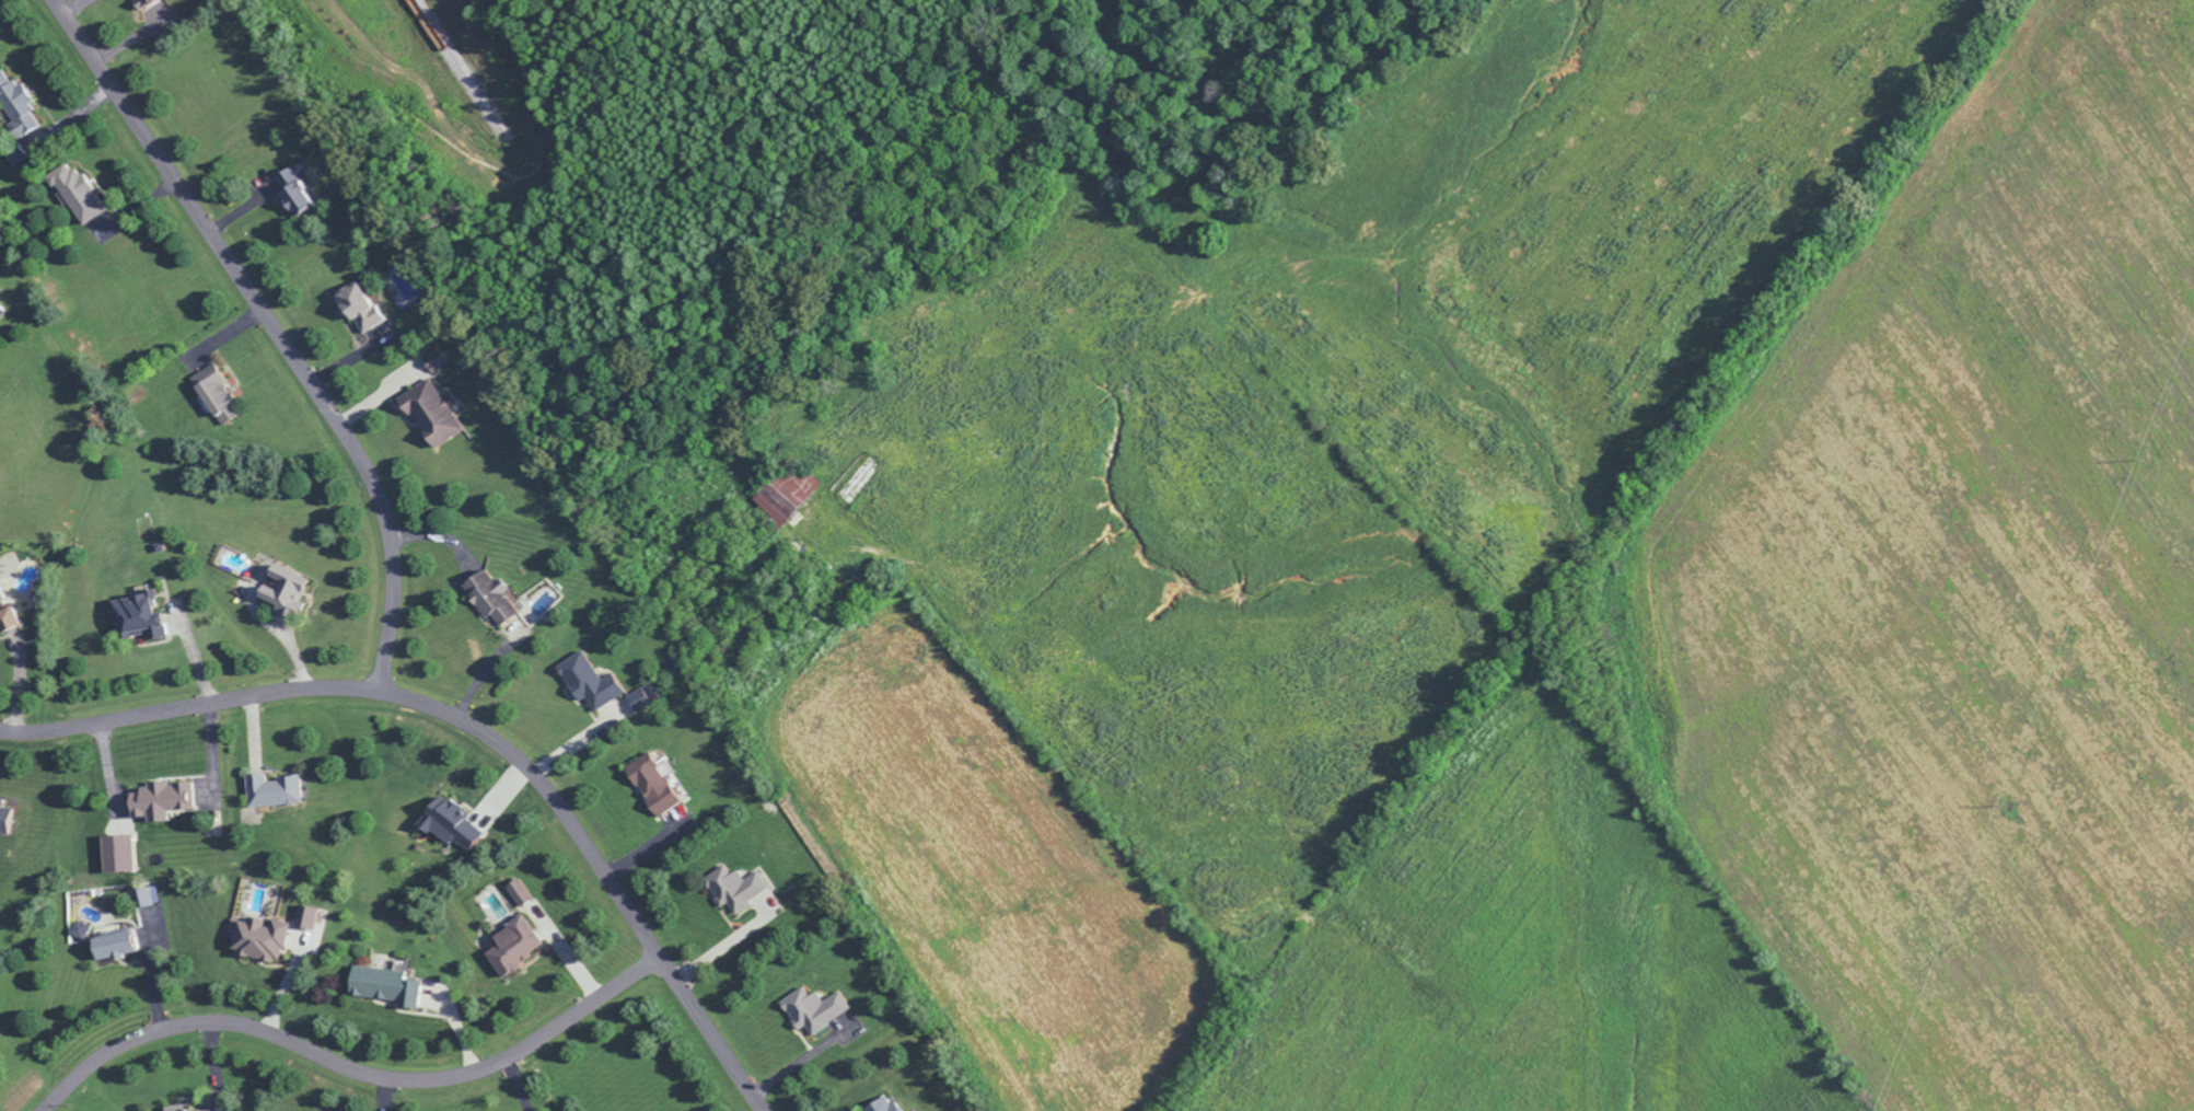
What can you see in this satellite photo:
building: (15, 104)
building: (74, 190)
building: (291, 190)
building: (357, 306)
road: (270, 328)
building: (436, 362)
building: (216, 397)
building: (430, 414)
building: (280, 586)
building: (486, 594)
building: (5, 615)
building: (137, 615)
road: (480, 673)
building: (587, 682)
building: (637, 698)
road: (471, 728)
building: (652, 786)
building: (271, 789)
building: (159, 798)
building: (4, 819)
building: (446, 822)
building: (115, 852)
building: (732, 887)
building: (518, 890)
building: (147, 894)
building: (307, 917)
building: (256, 938)
building: (103, 940)
building: (511, 944)
building: (381, 984)
building: (813, 1008)
road: (798, 1071)
road: (349, 1072)
road: (521, 1084)
building: (882, 1103)
building: (193, 1110)

